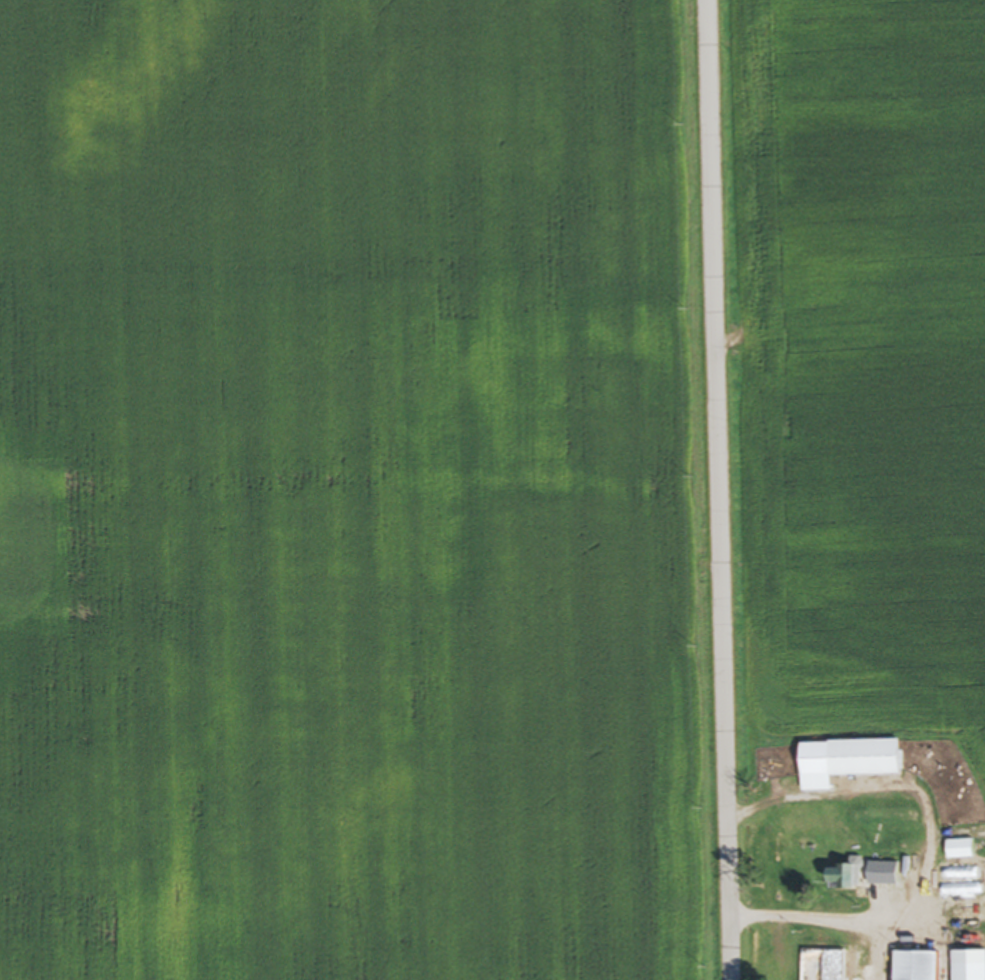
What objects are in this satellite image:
road: (721, 490)
building: (853, 760)
road: (763, 803)
building: (878, 875)
building: (848, 877)
road: (854, 922)
road: (775, 932)
building: (883, 965)
building: (843, 966)
building: (970, 966)
building: (918, 967)

